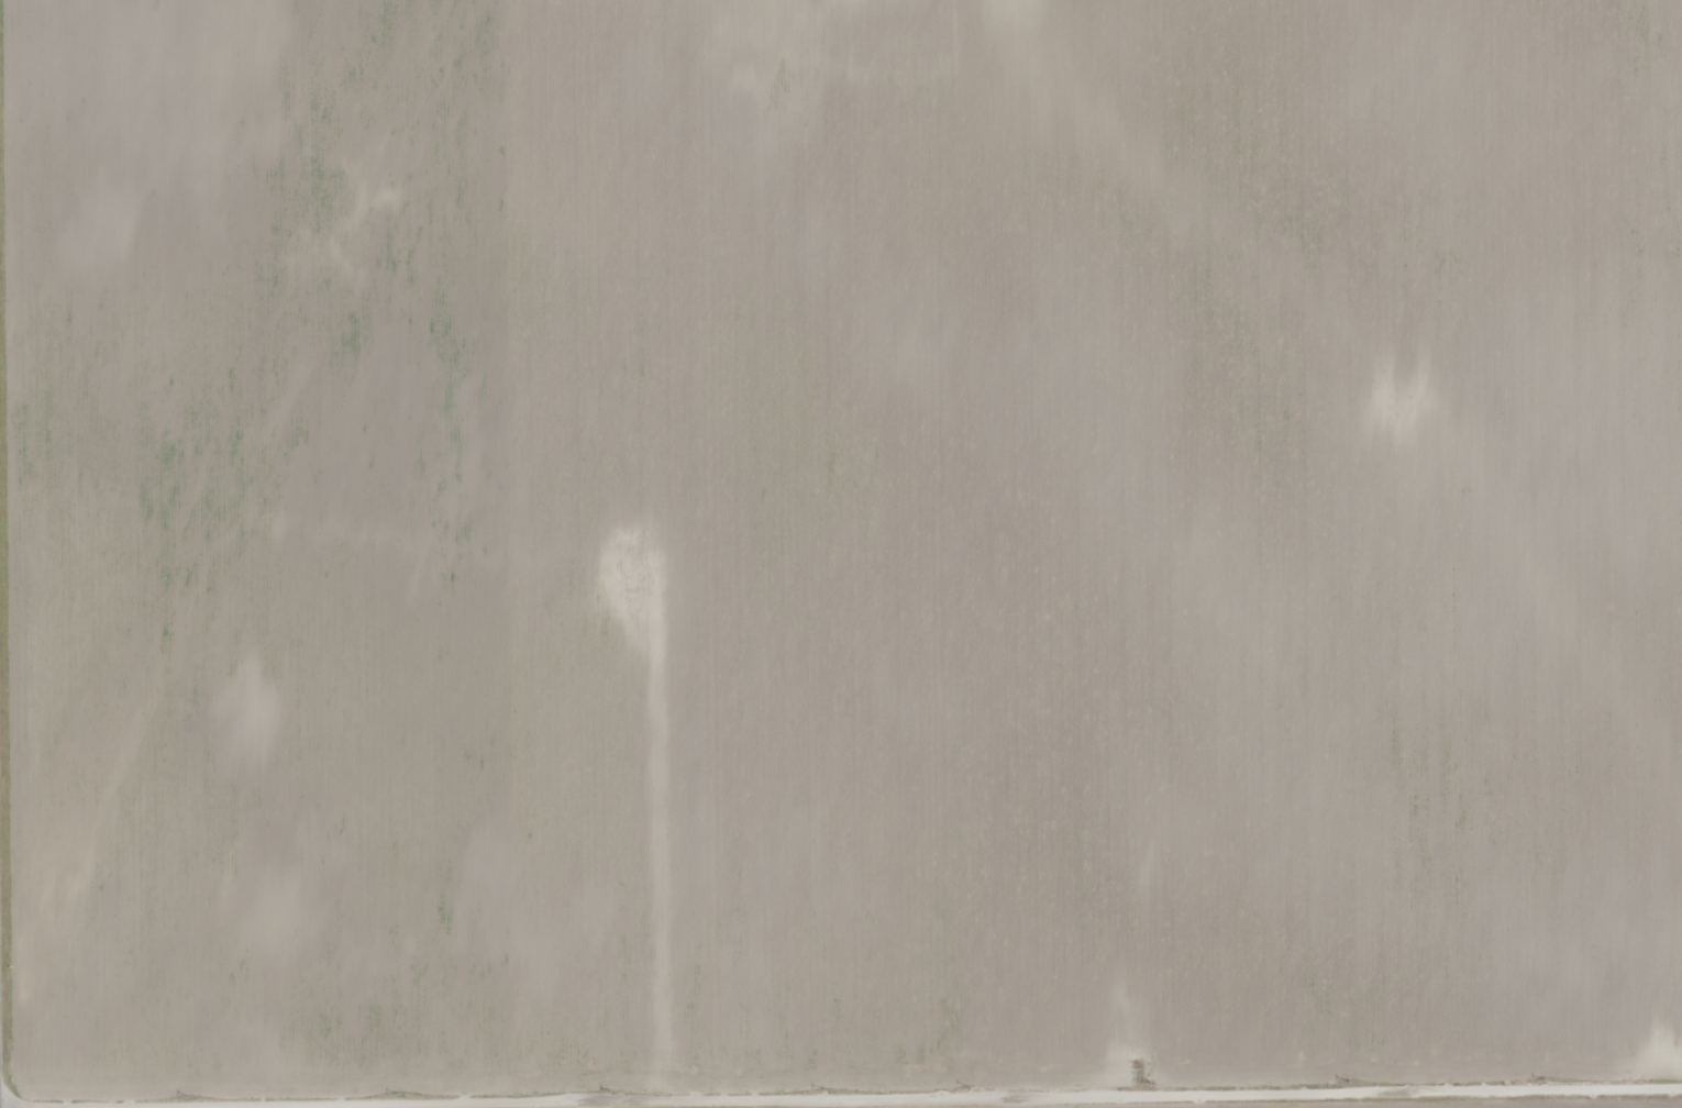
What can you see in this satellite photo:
road: (2, 911)
road: (843, 1090)
road: (2, 1103)

